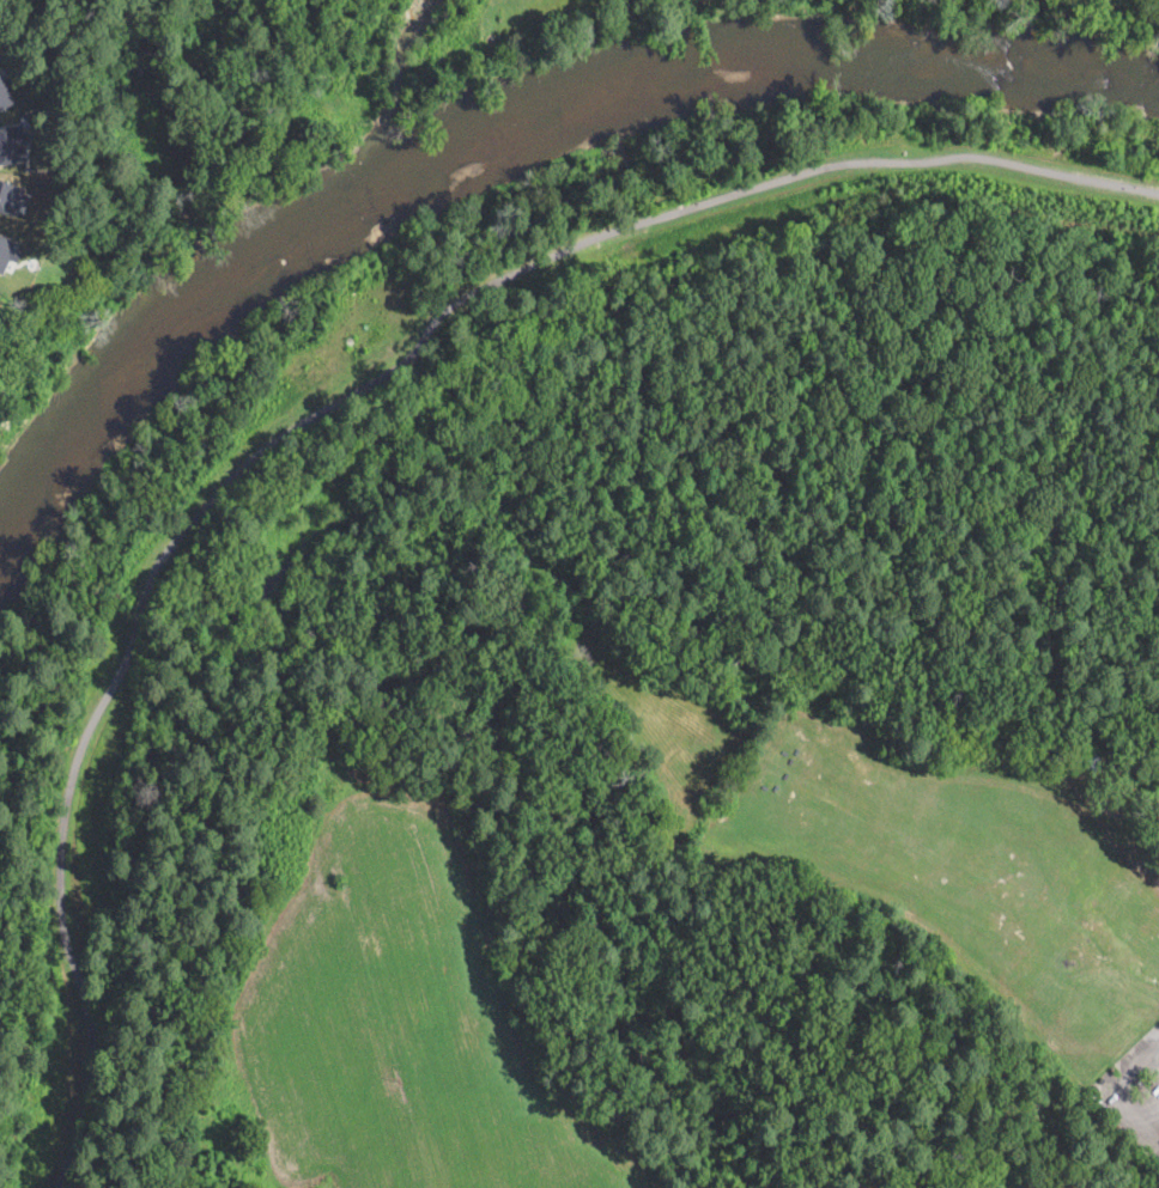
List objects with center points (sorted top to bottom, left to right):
building: (4, 93)
river: (505, 139)
building: (320, 141)
building: (13, 144)
building: (12, 197)
building: (8, 251)
park: (584, 319)
road: (334, 400)
building: (1093, 762)
park: (407, 921)
road: (1154, 1065)
road: (1118, 1092)

